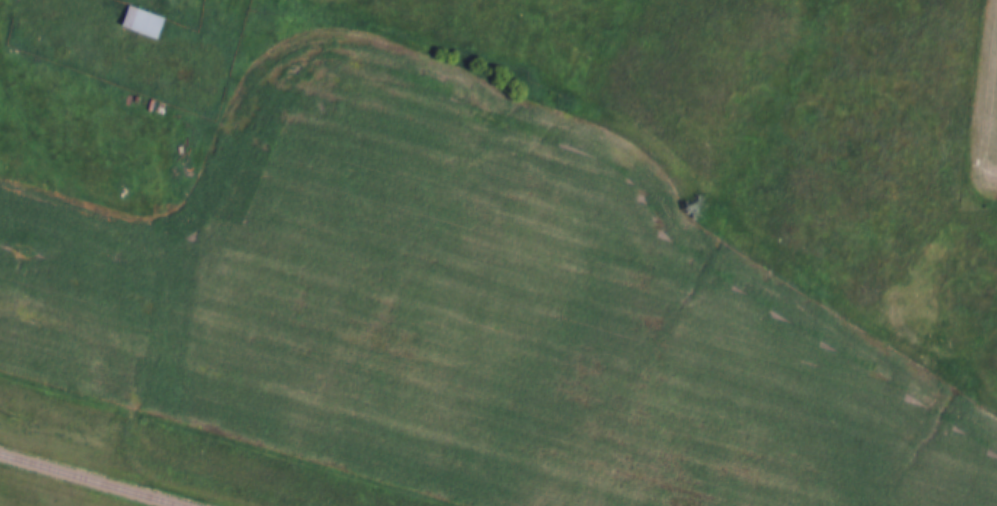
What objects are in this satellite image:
building: (147, 19)
road: (137, 213)
railway: (92, 479)

